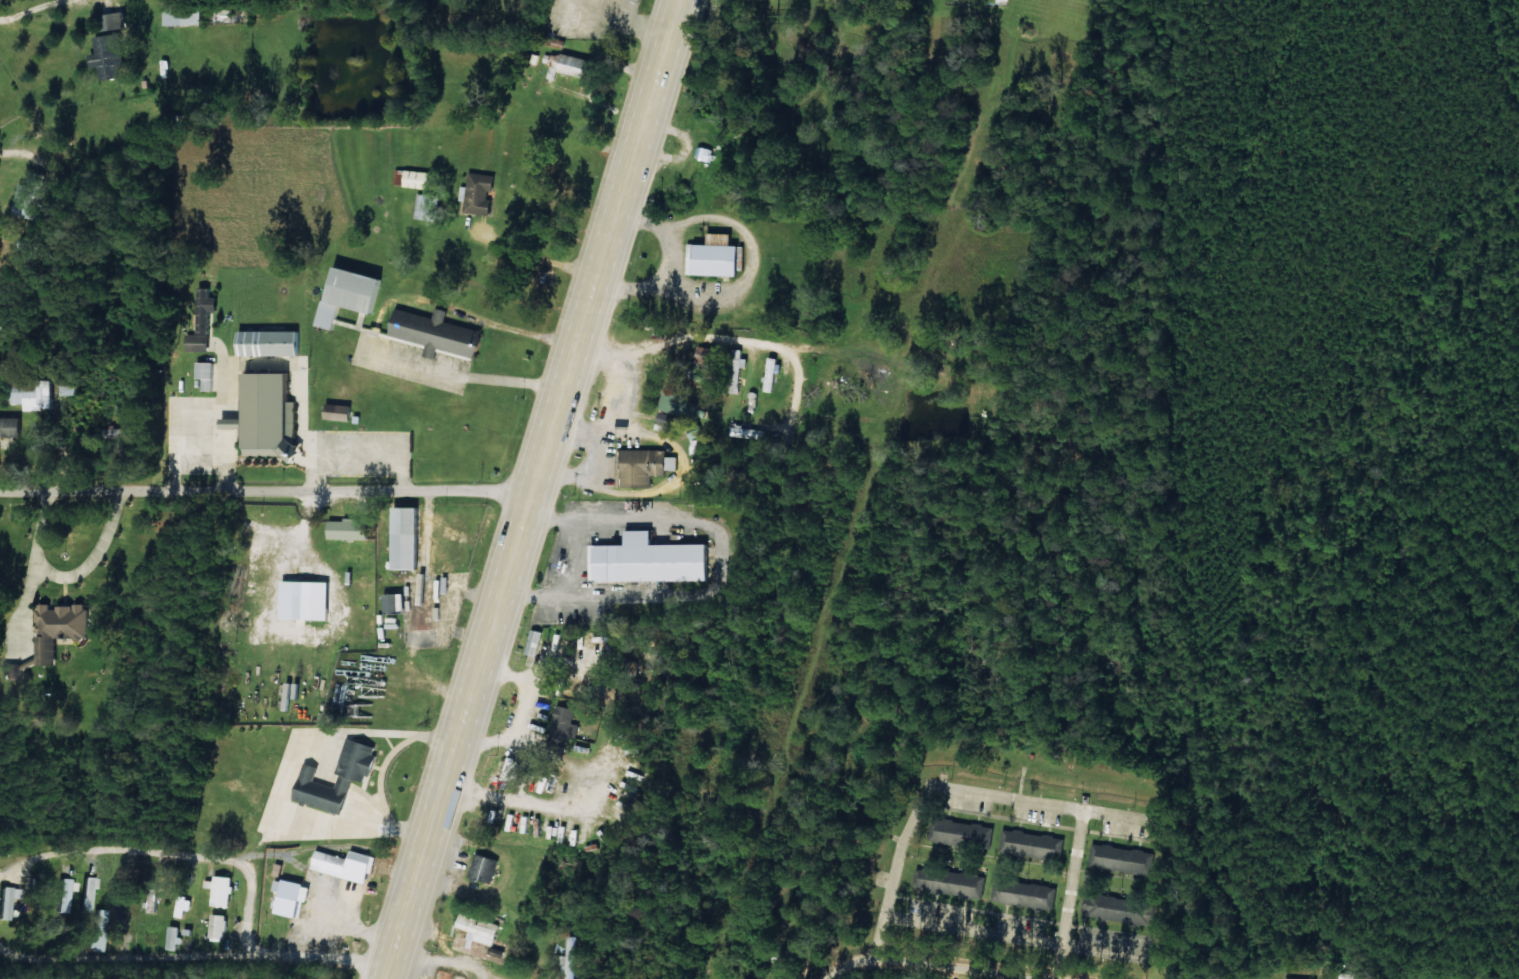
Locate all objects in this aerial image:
building: (183, 14)
building: (110, 55)
road: (663, 59)
building: (576, 65)
building: (418, 178)
building: (479, 193)
building: (29, 196)
building: (425, 206)
building: (31, 246)
building: (716, 256)
building: (351, 294)
building: (270, 343)
building: (773, 373)
building: (206, 375)
building: (34, 394)
building: (680, 405)
building: (340, 411)
building: (268, 414)
building: (670, 423)
building: (11, 426)
building: (117, 432)
building: (750, 432)
building: (645, 466)
road: (266, 487)
building: (351, 529)
building: (407, 538)
road: (514, 548)
building: (652, 560)
building: (426, 598)
building: (308, 600)
building: (397, 602)
building: (60, 628)
building: (535, 642)
road: (287, 702)
building: (565, 723)
building: (355, 775)
building: (518, 821)
building: (609, 832)
building: (966, 833)
building: (1032, 844)
building: (1120, 859)
building: (346, 864)
building: (485, 867)
building: (951, 882)
building: (221, 890)
building: (87, 892)
building: (1028, 893)
building: (65, 894)
building: (293, 895)
building: (154, 899)
building: (7, 900)
building: (1119, 909)
building: (219, 926)
building: (99, 930)
building: (476, 930)
building: (174, 937)
building: (572, 959)
building: (1300, 978)

